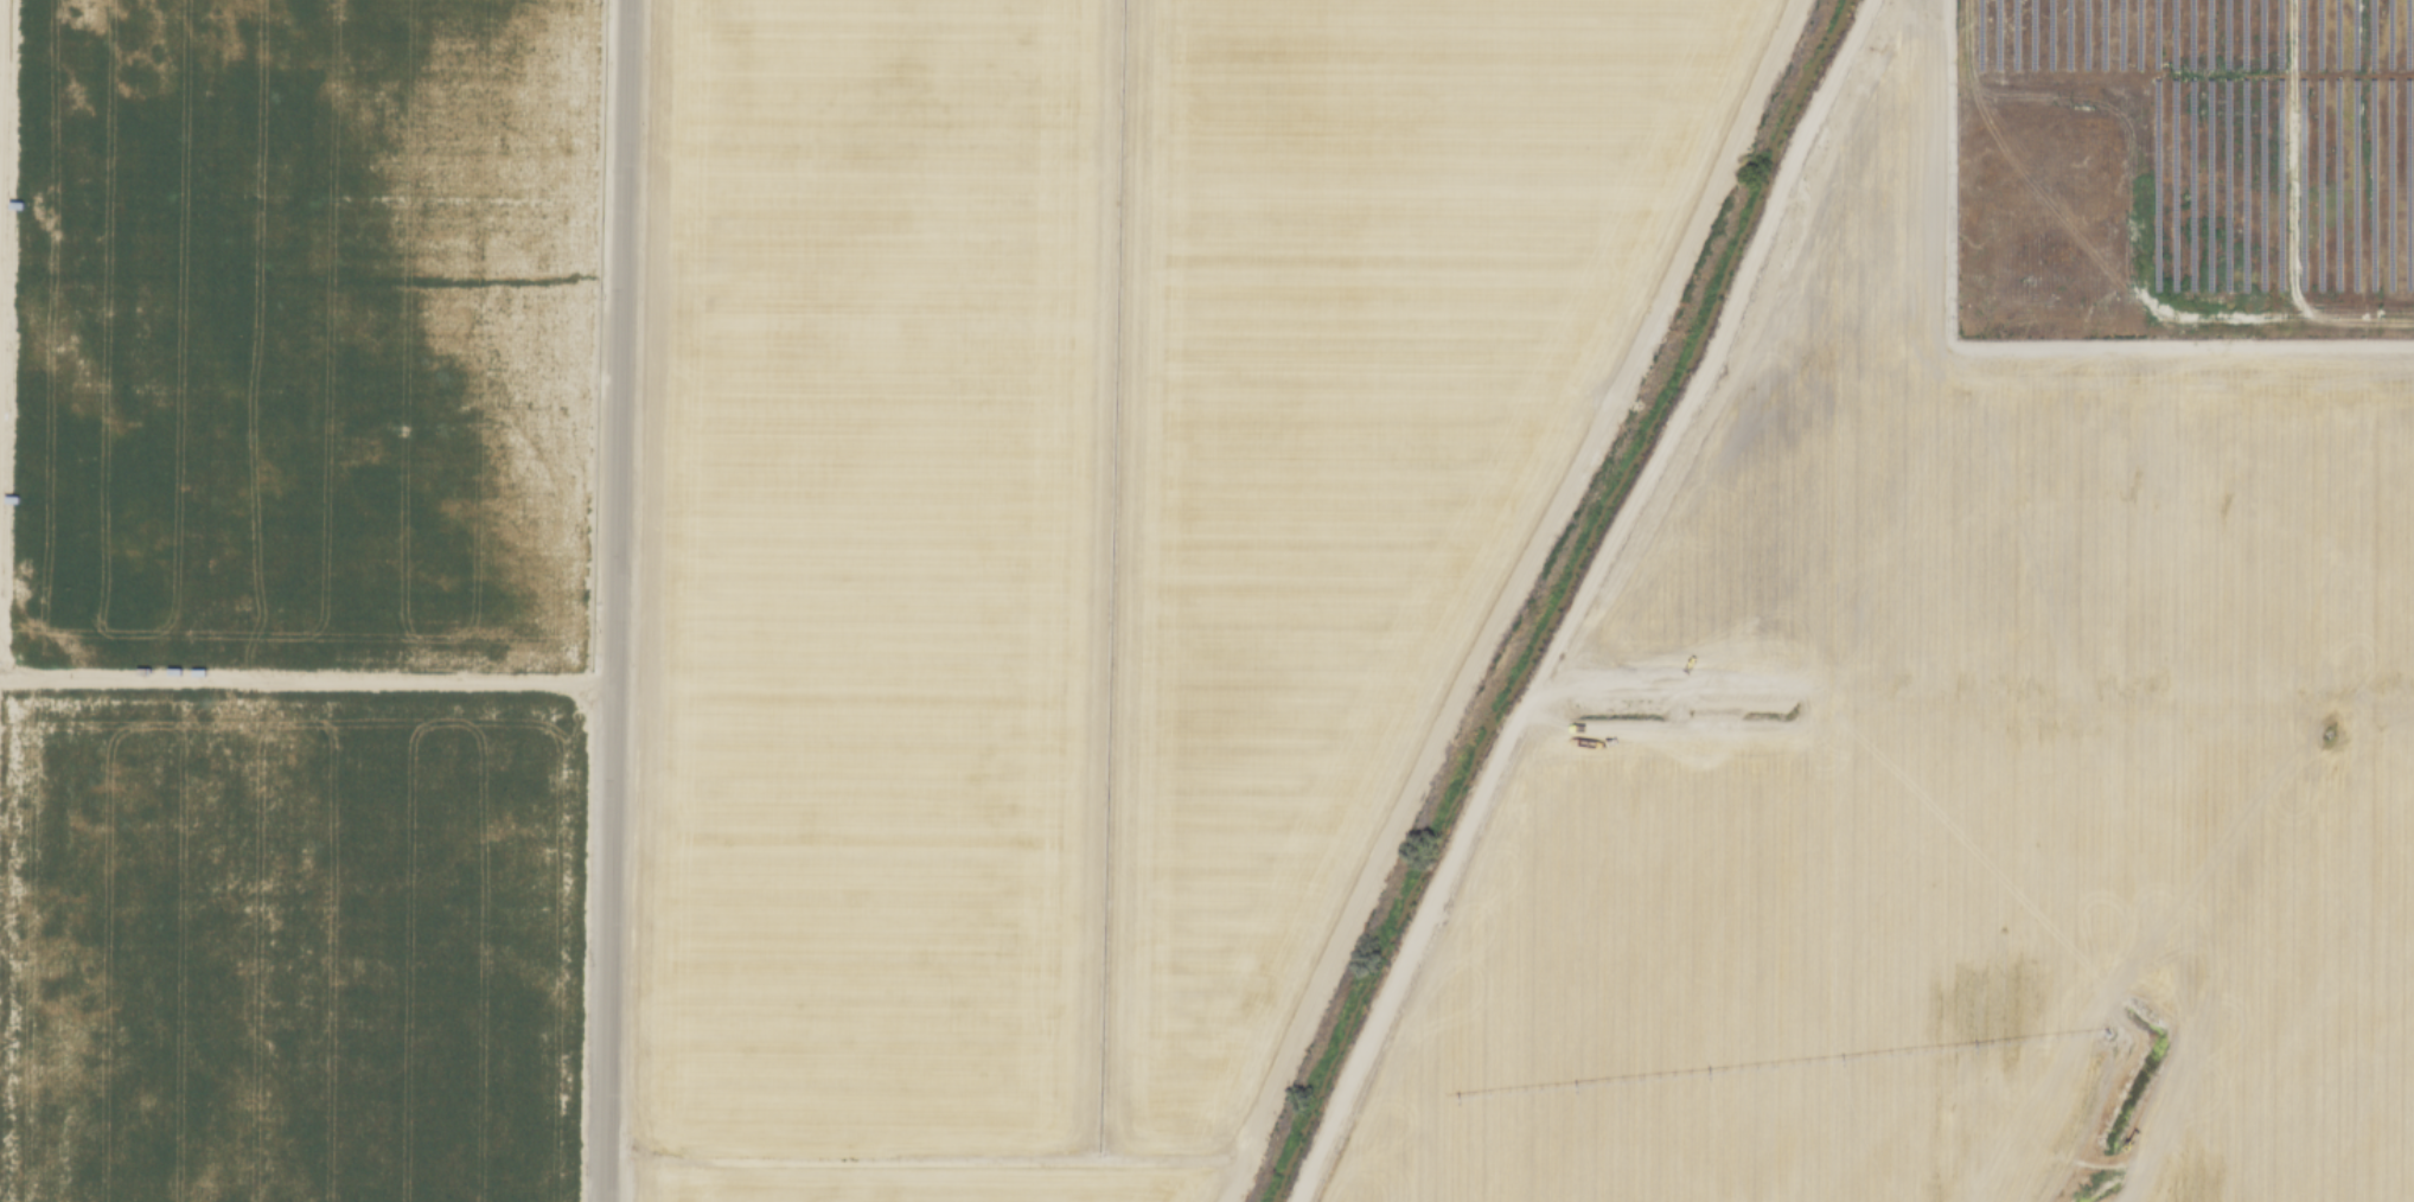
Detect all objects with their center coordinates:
solar farm: (2185, 170)
road: (1501, 599)
road: (608, 600)
road: (1579, 601)
road: (304, 680)

